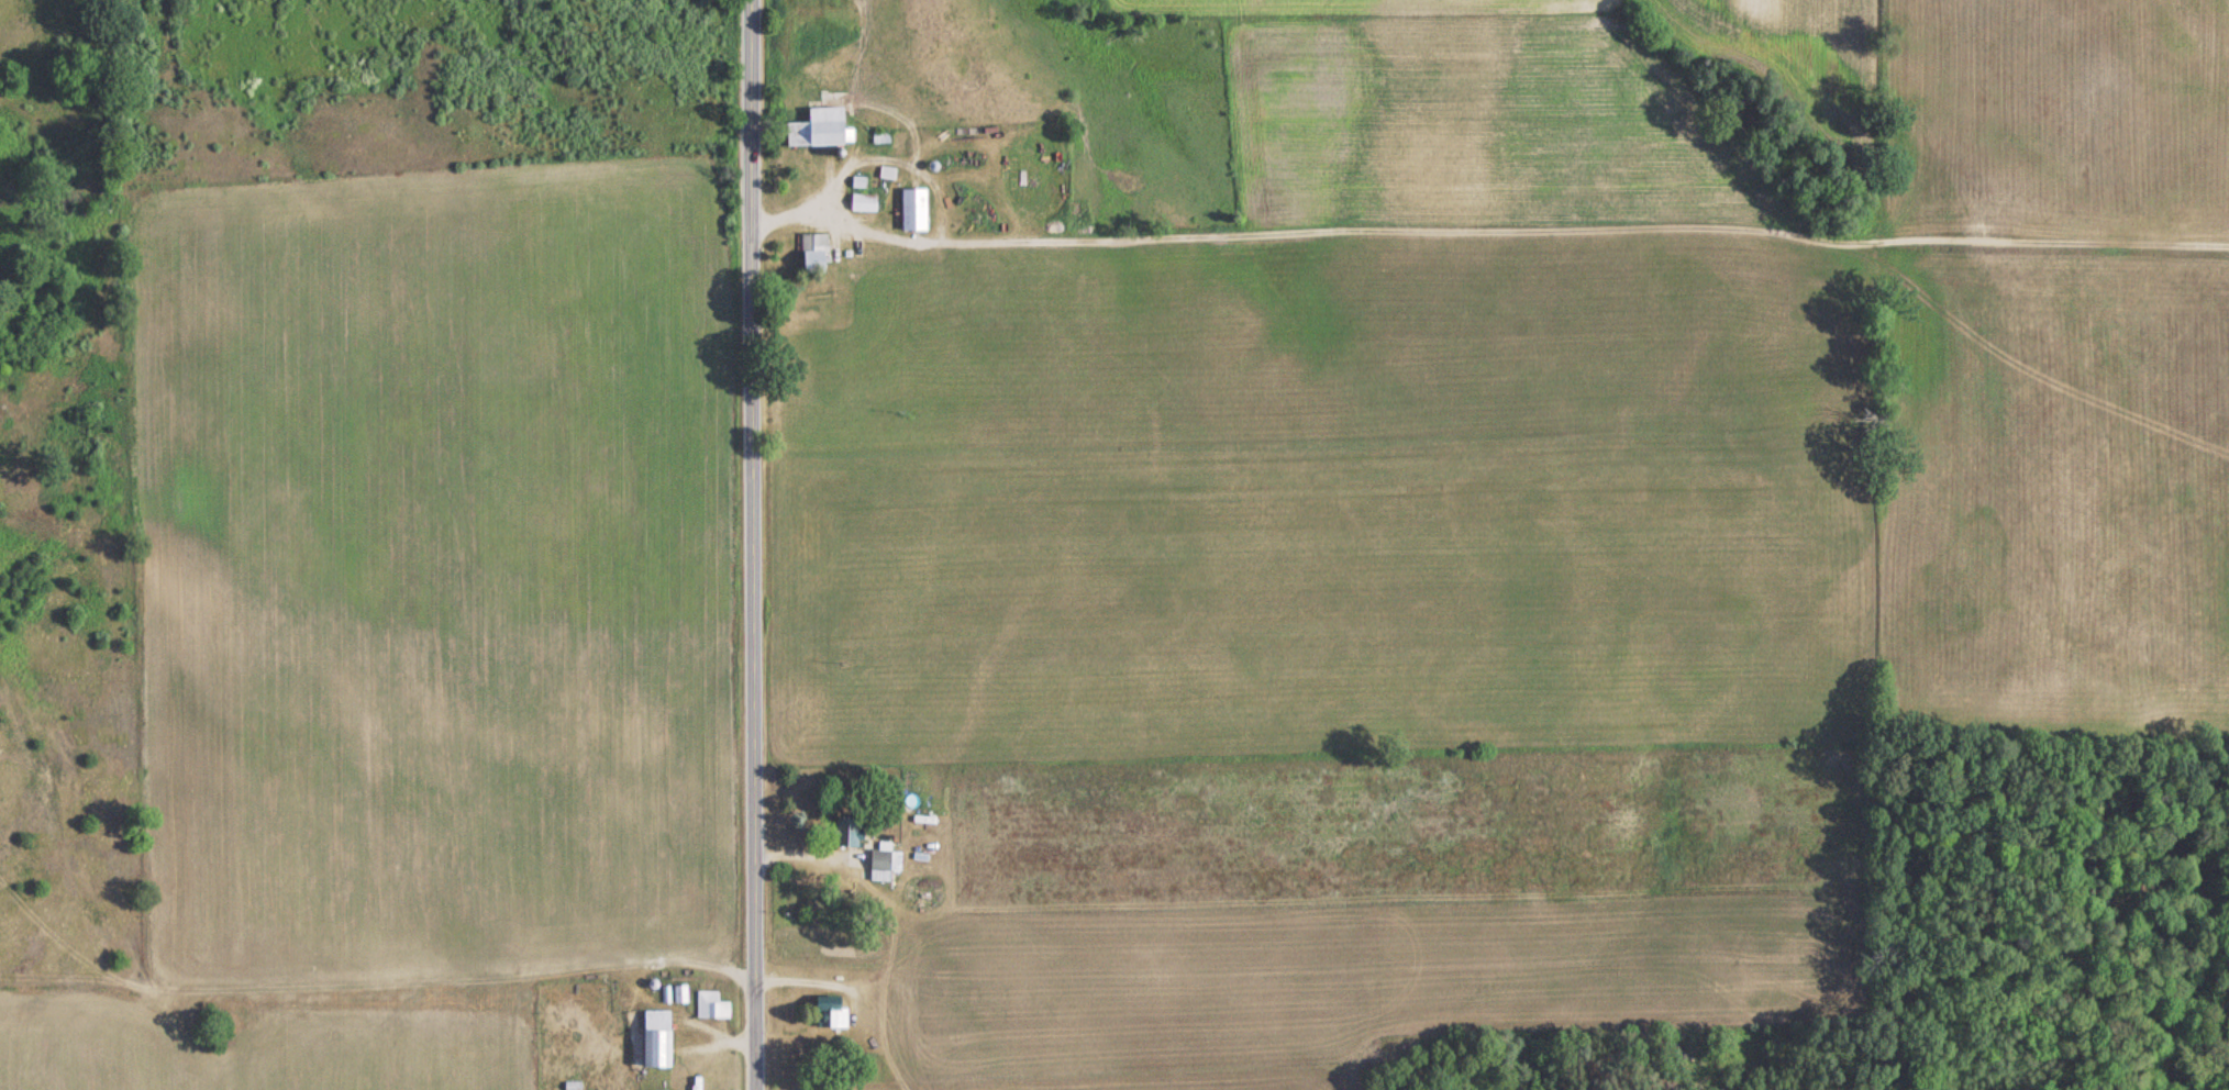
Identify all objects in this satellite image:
building: (816, 130)
building: (860, 202)
building: (910, 210)
building: (810, 253)
road: (744, 545)
building: (844, 833)
building: (880, 864)
building: (708, 1004)
building: (828, 1012)
building: (653, 1037)

